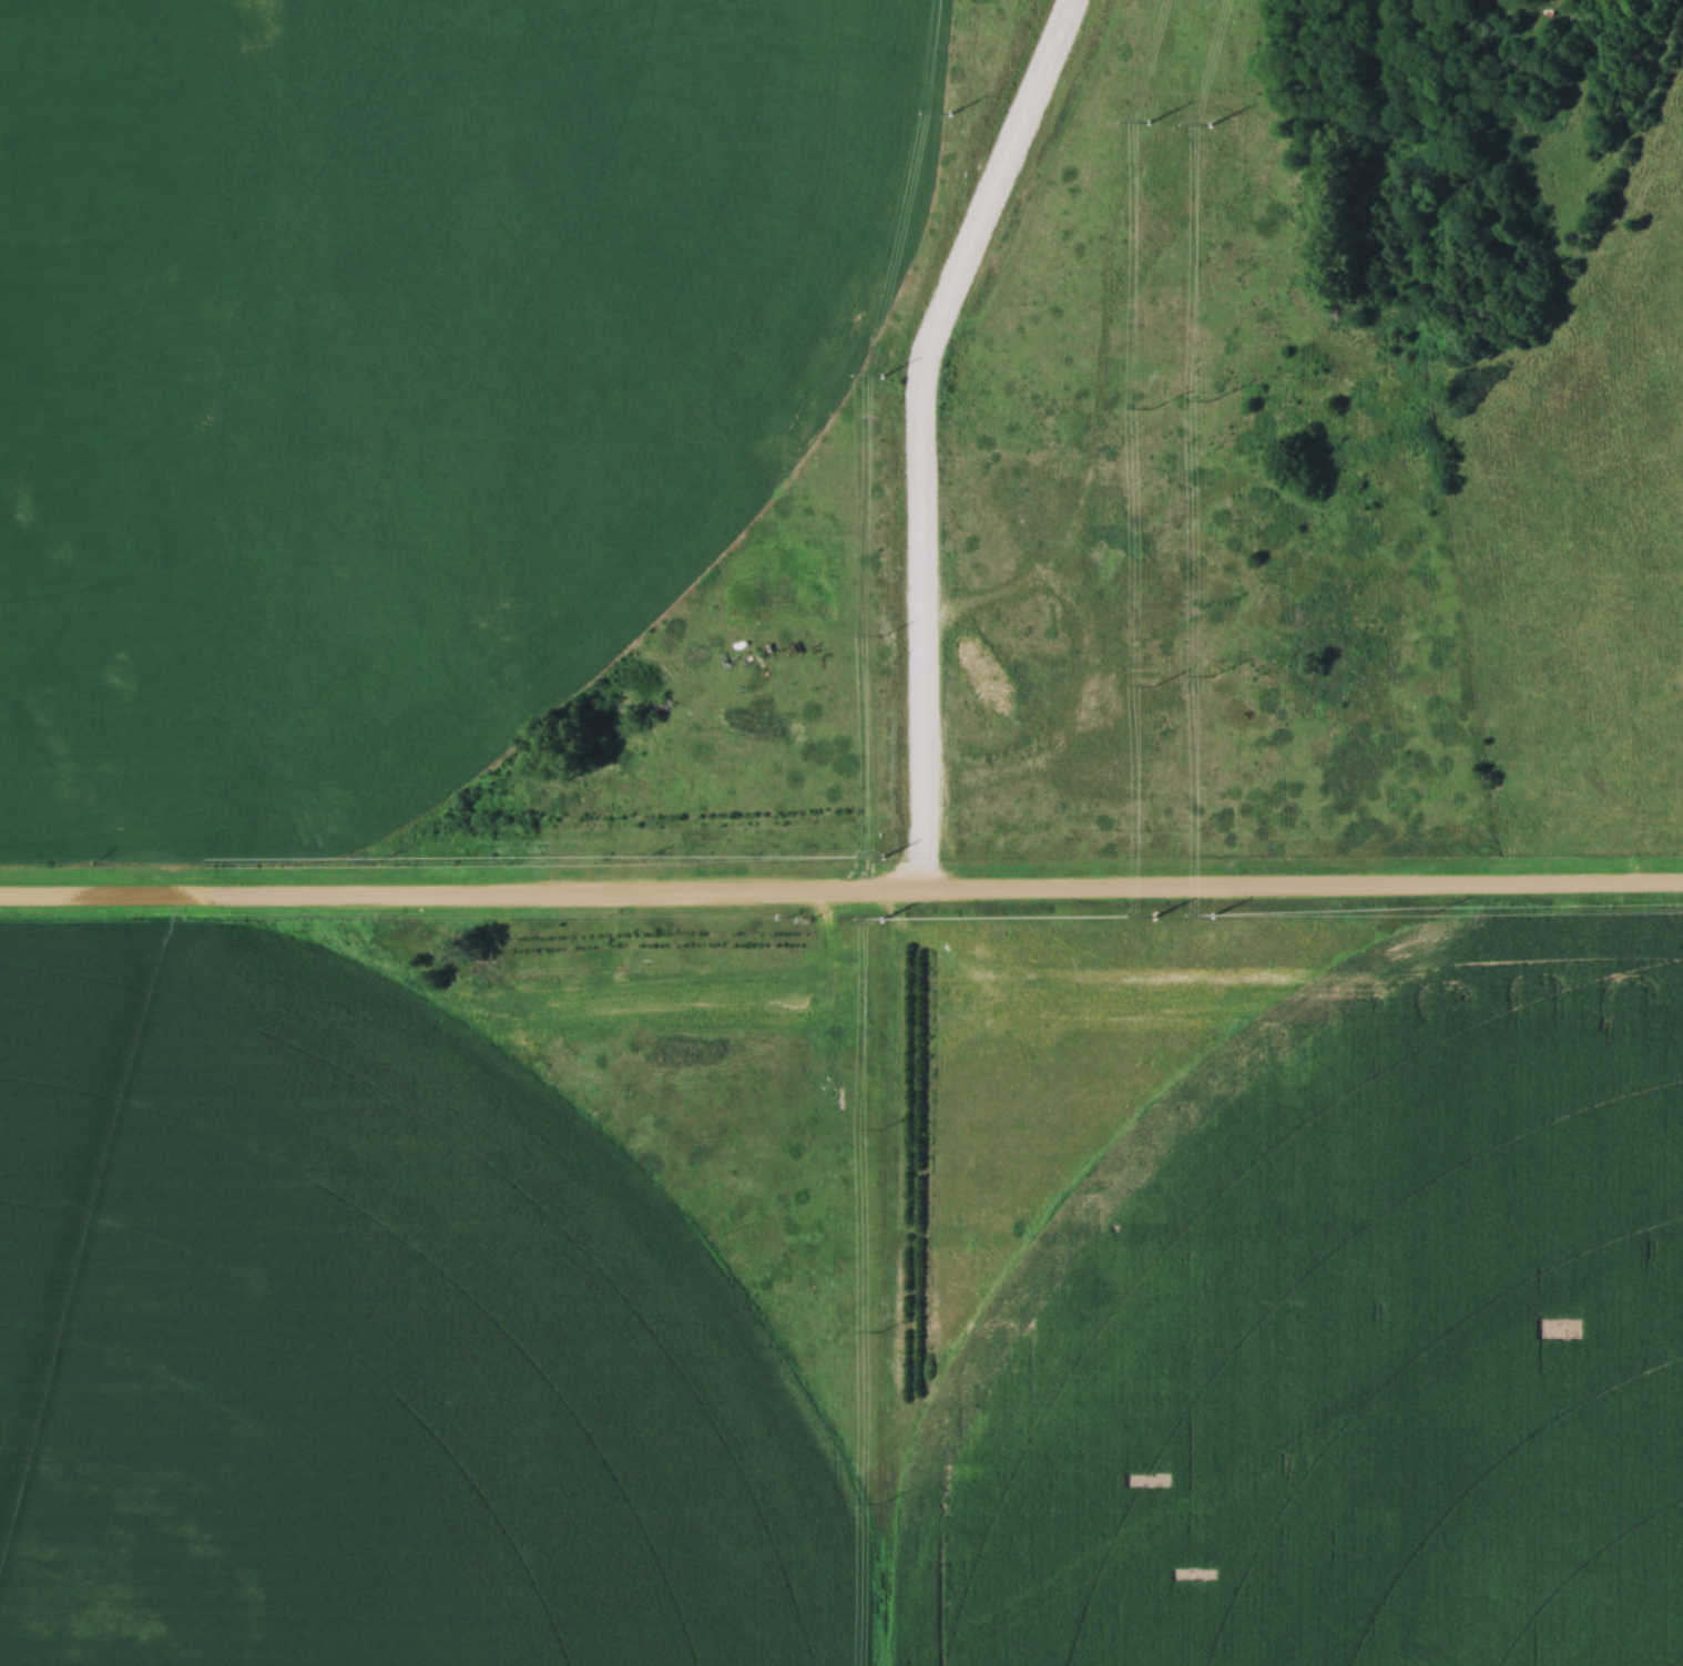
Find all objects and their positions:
road: (841, 892)

